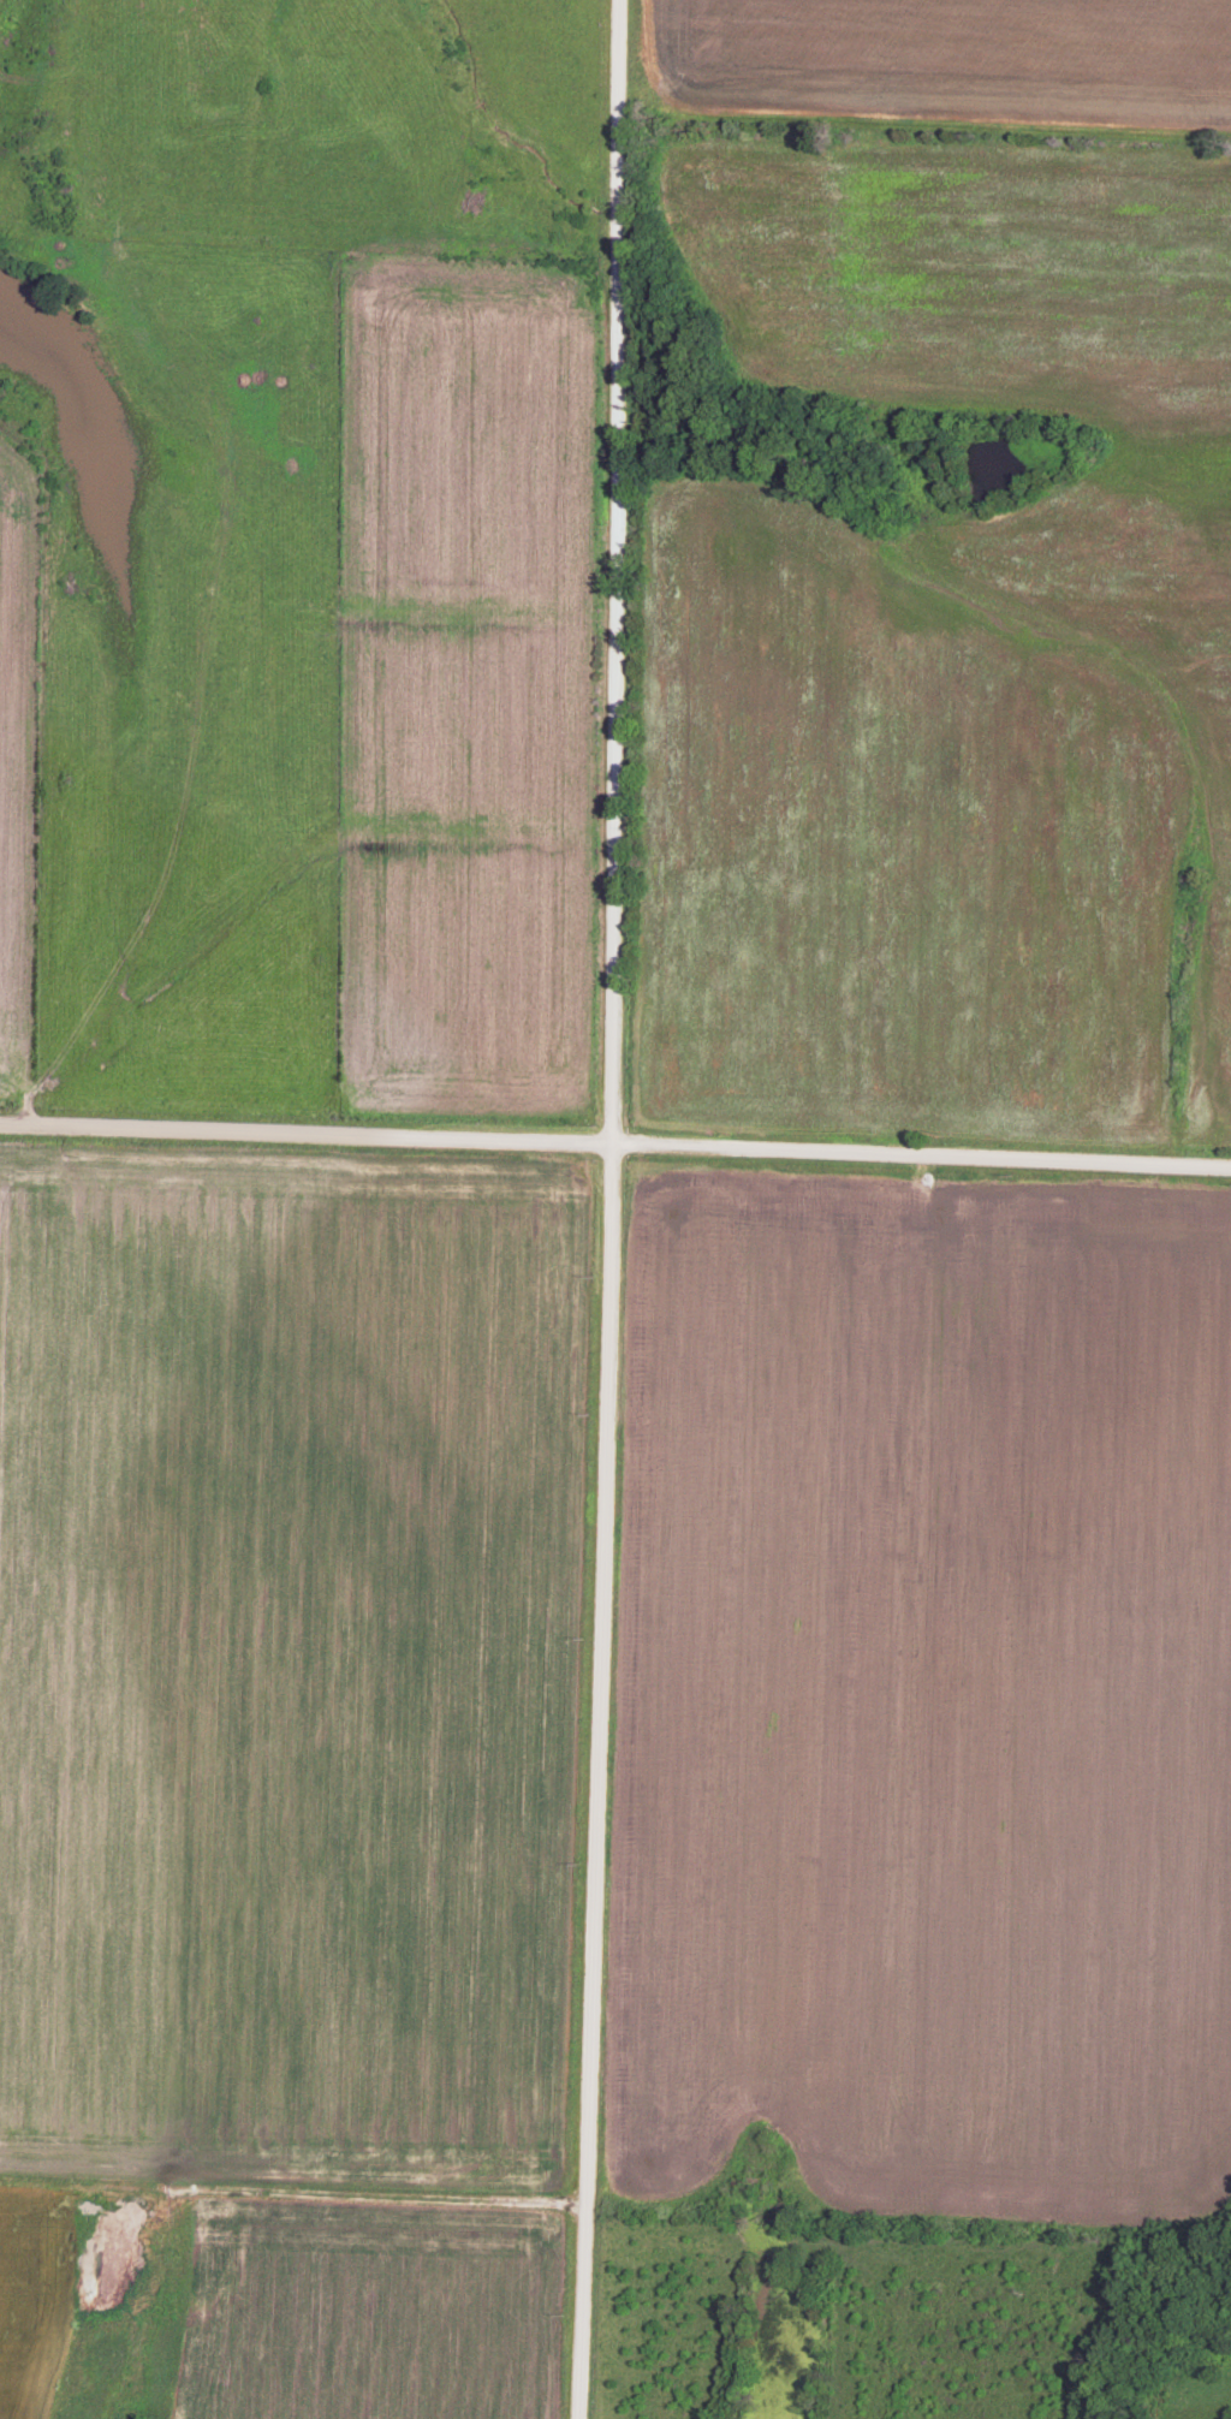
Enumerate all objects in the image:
road: (615, 1146)
road: (615, 1209)

